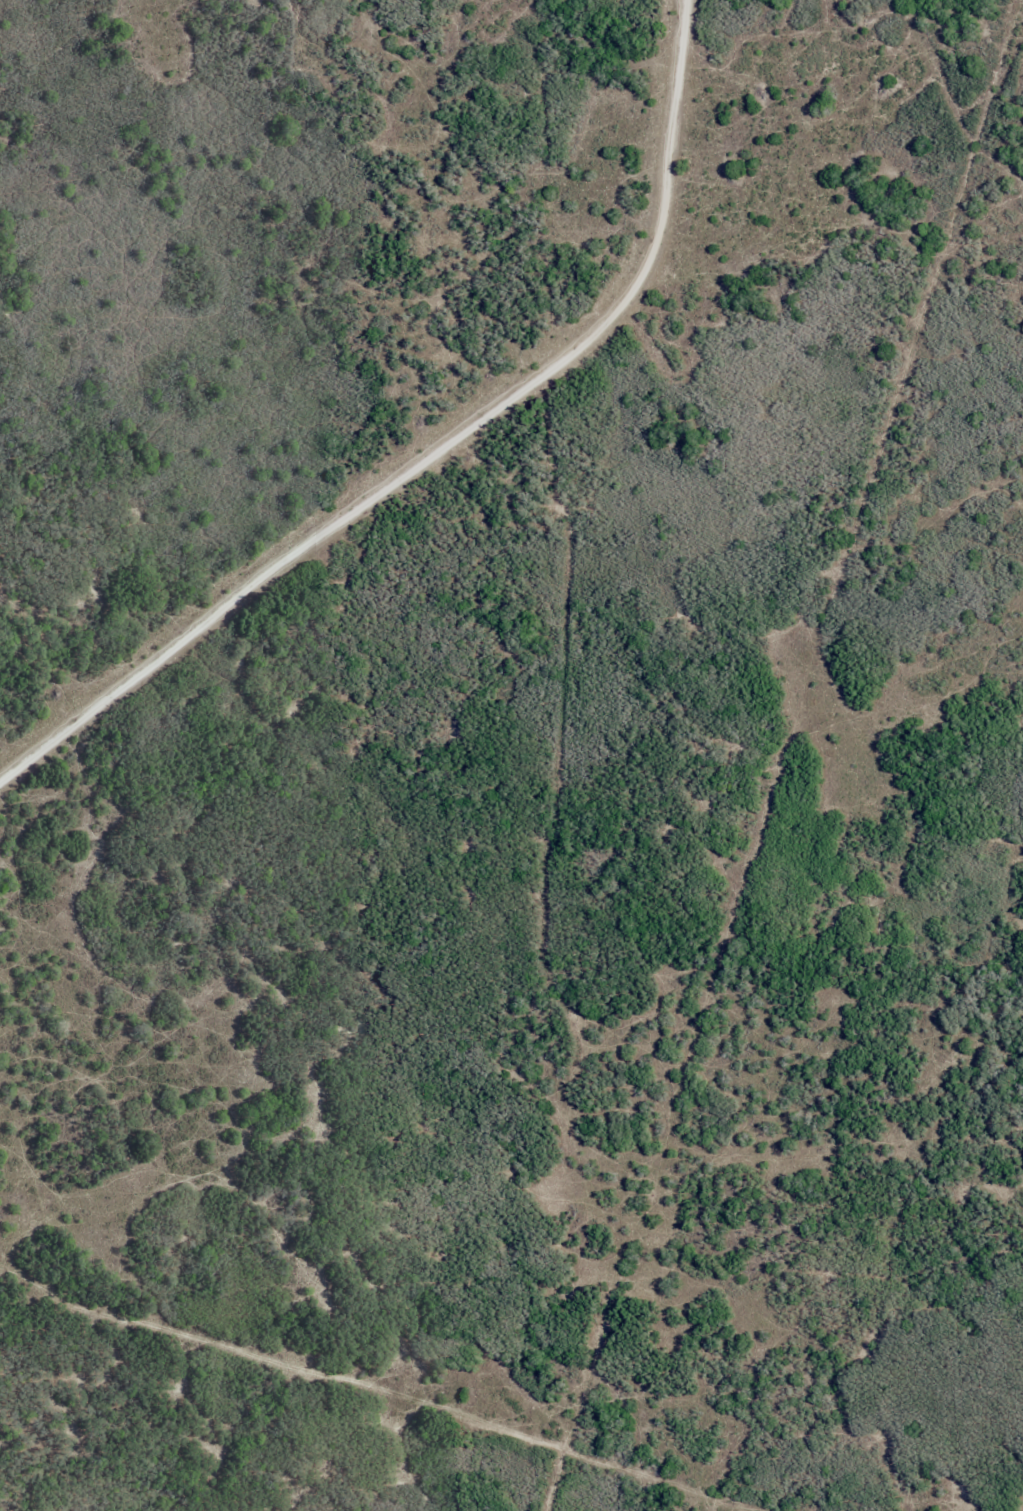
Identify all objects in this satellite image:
road: (441, 456)

